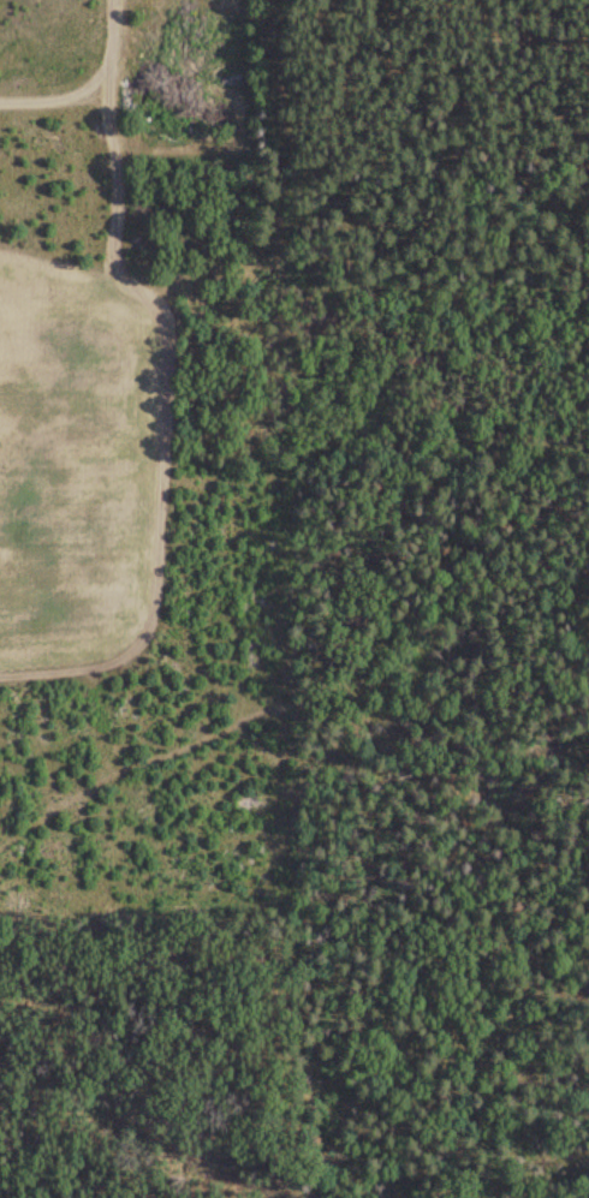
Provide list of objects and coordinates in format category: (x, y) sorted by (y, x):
road: (120, 10)
road: (56, 19)
road: (351, 22)
airport: (84, 470)

